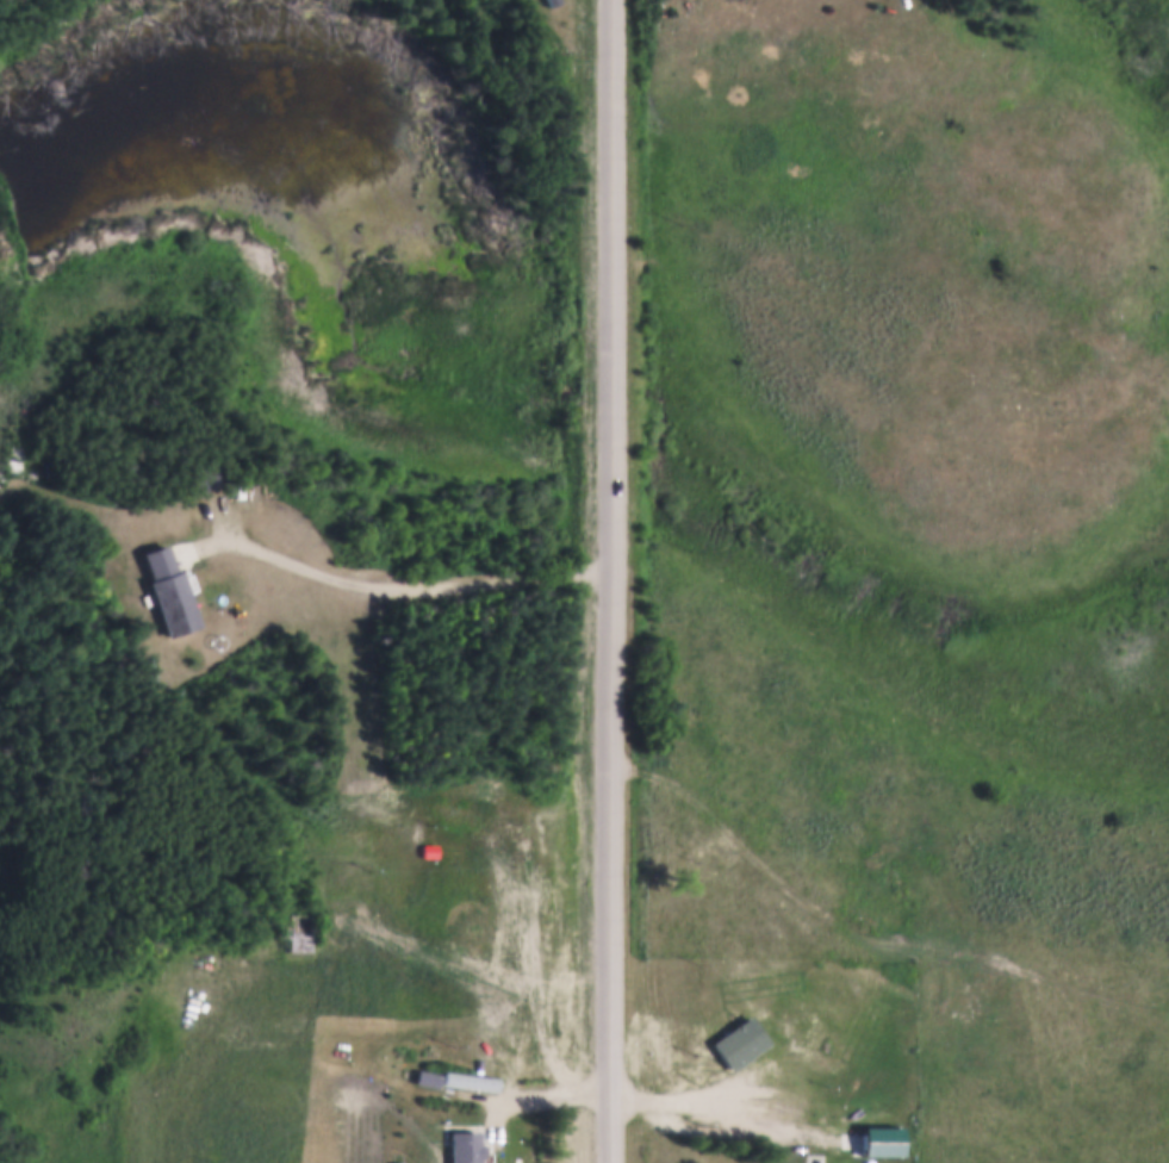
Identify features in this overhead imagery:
building: (545, 11)
building: (206, 474)
road: (611, 580)
building: (172, 589)
road: (409, 595)
building: (459, 810)
building: (300, 940)
building: (738, 1040)
building: (424, 1075)
building: (467, 1078)
building: (421, 1082)
road: (707, 1092)
building: (859, 1114)
building: (878, 1139)
building: (462, 1145)
building: (394, 1162)

